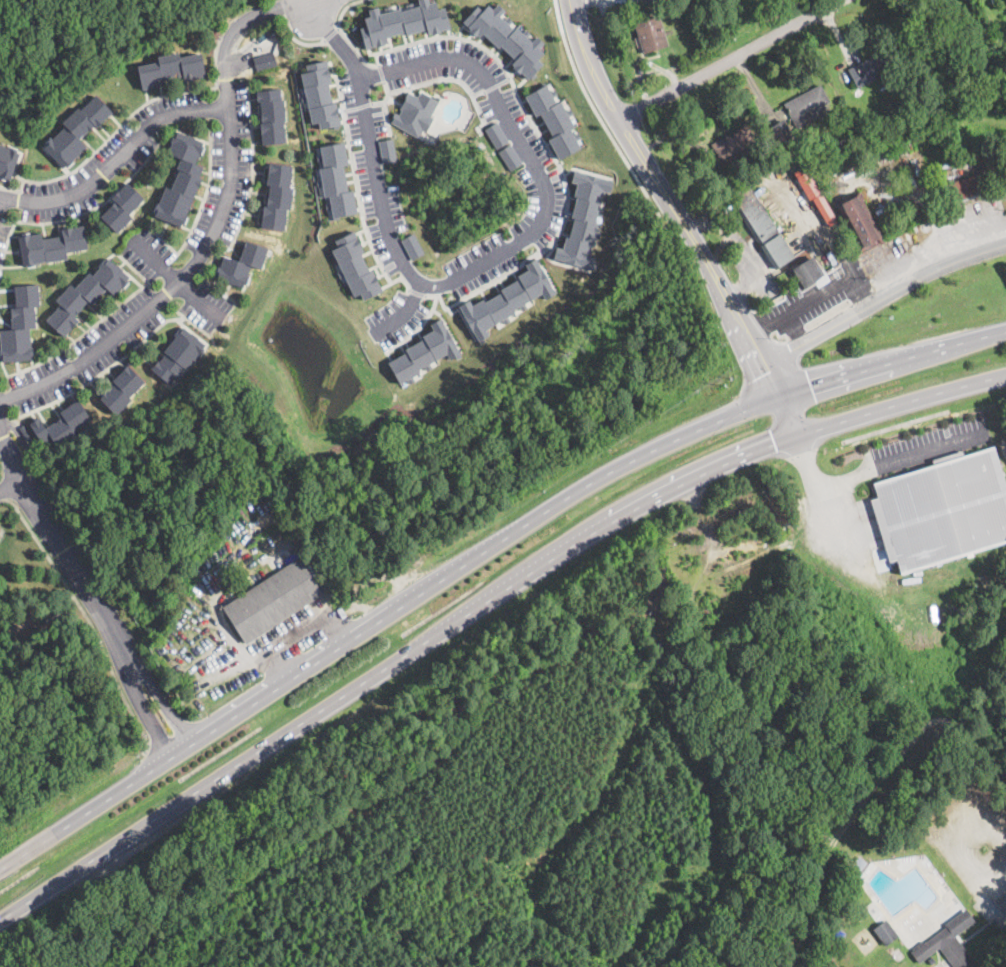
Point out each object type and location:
road: (249, 15)
building: (402, 21)
building: (650, 34)
road: (332, 37)
building: (507, 37)
park: (81, 41)
road: (730, 59)
building: (264, 61)
building: (869, 69)
building: (171, 70)
building: (319, 94)
building: (805, 105)
building: (415, 112)
road: (597, 112)
building: (271, 116)
building: (841, 118)
building: (555, 119)
road: (529, 120)
building: (874, 126)
building: (782, 131)
building: (76, 132)
building: (496, 134)
building: (732, 141)
building: (848, 142)
building: (387, 149)
building: (884, 149)
building: (900, 149)
building: (510, 156)
road: (116, 158)
building: (7, 161)
building: (732, 162)
building: (939, 173)
building: (335, 179)
building: (180, 180)
building: (964, 189)
building: (277, 196)
road: (669, 199)
building: (122, 206)
building: (584, 218)
building: (859, 220)
building: (763, 226)
road: (517, 240)
building: (51, 245)
building: (412, 245)
road: (931, 249)
road: (944, 255)
building: (240, 265)
building: (354, 266)
road: (187, 269)
building: (806, 272)
road: (176, 277)
building: (87, 294)
road: (882, 298)
building: (507, 299)
road: (810, 299)
road: (406, 310)
building: (20, 324)
road: (794, 327)
building: (424, 352)
building: (179, 355)
road: (890, 358)
traffic signals: (767, 371)
traffic signals: (810, 385)
building: (122, 390)
road: (901, 405)
road: (788, 415)
building: (62, 425)
building: (26, 433)
traffic signals: (775, 445)
traffic signals: (803, 450)
road: (872, 469)
road: (11, 484)
building: (941, 509)
building: (198, 589)
road: (87, 590)
building: (271, 600)
road: (87, 615)
road: (381, 619)
road: (292, 634)
building: (640, 652)
road: (390, 663)
building: (676, 683)
building: (858, 863)
building: (840, 924)
building: (885, 932)
building: (947, 942)

